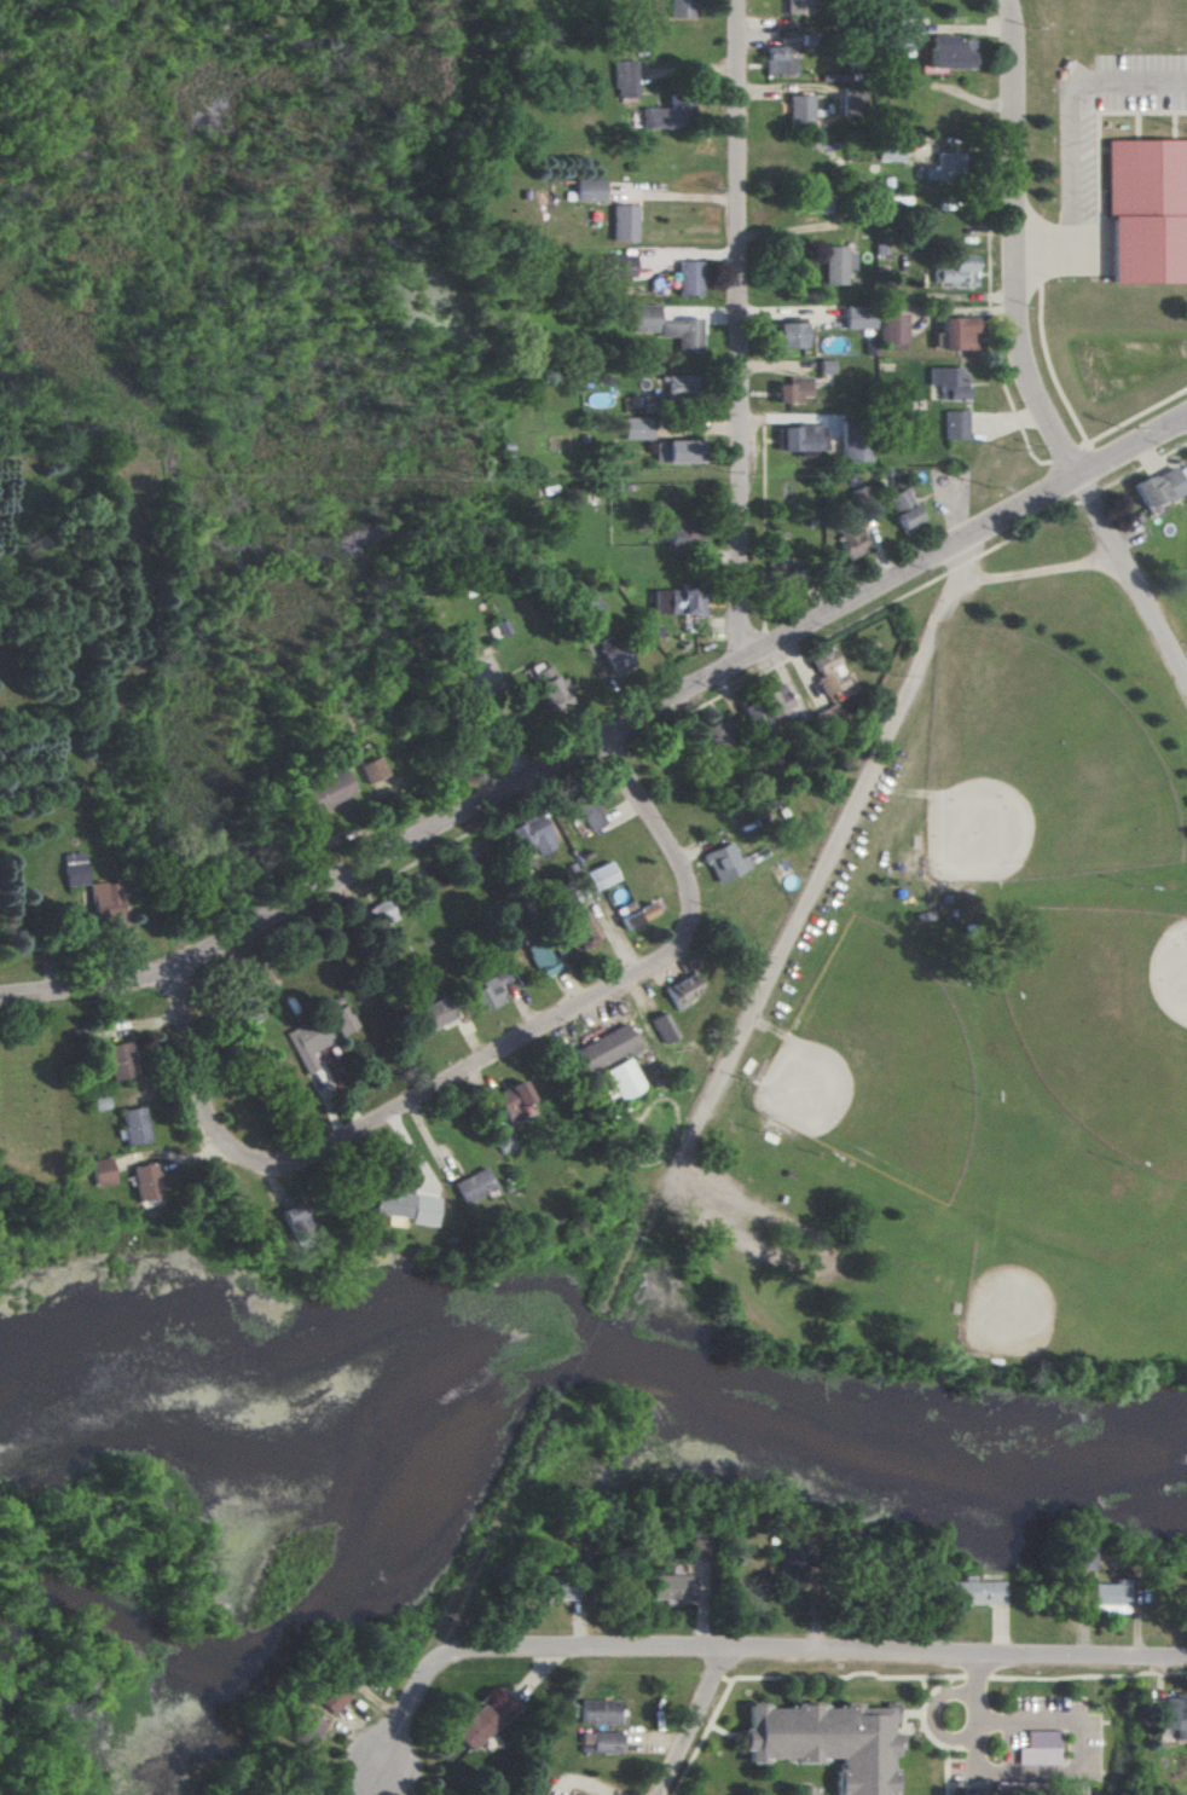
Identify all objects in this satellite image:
building: (798, 6)
building: (681, 8)
building: (949, 52)
building: (780, 60)
building: (624, 79)
road: (1127, 86)
building: (851, 100)
building: (800, 108)
building: (661, 115)
road: (1096, 123)
building: (942, 166)
road: (1066, 167)
road: (682, 181)
building: (589, 190)
building: (820, 203)
building: (1147, 210)
building: (624, 222)
road: (1098, 236)
road: (1012, 242)
road: (1060, 248)
road: (1148, 248)
building: (835, 265)
building: (615, 266)
road: (1040, 267)
building: (956, 272)
building: (689, 278)
building: (856, 317)
building: (667, 326)
road: (745, 330)
building: (787, 334)
building: (953, 334)
road: (990, 341)
building: (946, 382)
building: (677, 386)
building: (791, 389)
building: (653, 401)
road: (1075, 419)
building: (954, 424)
building: (636, 428)
building: (797, 440)
building: (851, 440)
road: (1084, 446)
building: (677, 451)
road: (1065, 456)
road: (1143, 465)
building: (1159, 487)
road: (1089, 496)
building: (902, 510)
road: (1030, 528)
building: (682, 533)
road: (965, 563)
road: (1129, 577)
building: (678, 600)
building: (618, 658)
parking lot: (1181, 683)
building: (548, 687)
building: (755, 720)
building: (713, 734)
road: (606, 741)
building: (375, 769)
park: (1032, 769)
road: (566, 778)
building: (330, 791)
building: (584, 809)
road: (660, 822)
building: (532, 834)
building: (724, 862)
building: (73, 868)
road: (822, 873)
building: (104, 903)
building: (584, 928)
building: (540, 957)
building: (682, 989)
building: (487, 990)
building: (434, 1013)
park: (965, 1018)
building: (343, 1019)
park: (1104, 1019)
building: (308, 1042)
building: (598, 1050)
building: (120, 1060)
park: (876, 1067)
building: (621, 1078)
building: (513, 1100)
road: (396, 1112)
building: (133, 1125)
building: (500, 1139)
building: (102, 1171)
building: (145, 1181)
building: (471, 1185)
building: (404, 1206)
building: (300, 1221)
park: (1067, 1267)
river: (660, 1380)
building: (1081, 1557)
building: (789, 1558)
building: (551, 1587)
building: (668, 1587)
building: (974, 1591)
building: (1110, 1593)
road: (752, 1649)
building: (334, 1696)
building: (596, 1712)
road: (928, 1712)
building: (1174, 1715)
building: (484, 1719)
road: (695, 1721)
building: (305, 1730)
road: (1077, 1732)
building: (598, 1741)
building: (826, 1741)
building: (1038, 1747)
building: (575, 1794)

